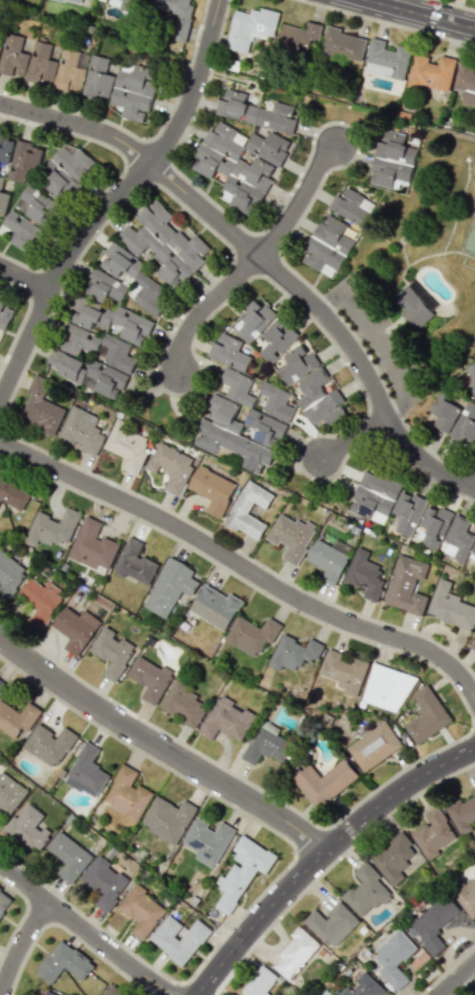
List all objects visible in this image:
building: (73, 1)
road: (456, 4)
building: (130, 5)
road: (420, 14)
building: (176, 15)
building: (250, 28)
building: (298, 39)
building: (343, 46)
building: (0, 48)
building: (13, 56)
building: (386, 59)
building: (40, 64)
building: (69, 72)
building: (431, 72)
building: (98, 78)
building: (466, 83)
building: (134, 92)
building: (256, 112)
road: (79, 124)
building: (269, 147)
building: (6, 149)
building: (392, 160)
building: (24, 162)
building: (233, 168)
building: (66, 171)
building: (3, 198)
road: (116, 200)
building: (36, 206)
building: (350, 206)
building: (20, 231)
park: (470, 237)
building: (166, 245)
building: (327, 246)
road: (256, 259)
road: (25, 278)
building: (134, 278)
building: (104, 287)
road: (332, 298)
building: (413, 307)
building: (5, 314)
road: (328, 314)
building: (112, 320)
building: (253, 320)
road: (358, 335)
building: (277, 339)
building: (97, 346)
road: (376, 346)
building: (229, 352)
building: (297, 364)
road: (378, 368)
building: (88, 373)
building: (471, 378)
building: (238, 386)
building: (319, 398)
building: (276, 402)
building: (41, 407)
building: (444, 413)
building: (465, 424)
building: (265, 428)
building: (82, 430)
building: (231, 435)
road: (357, 438)
building: (128, 446)
building: (171, 466)
building: (212, 490)
building: (13, 494)
building: (374, 497)
building: (239, 511)
building: (408, 512)
building: (433, 526)
building: (53, 528)
building: (291, 537)
building: (458, 538)
building: (92, 546)
building: (472, 552)
building: (328, 561)
building: (134, 562)
road: (241, 564)
building: (474, 568)
building: (10, 575)
building: (365, 575)
building: (407, 585)
building: (170, 587)
building: (41, 601)
building: (215, 606)
building: (450, 606)
building: (76, 628)
building: (251, 635)
building: (472, 645)
building: (112, 652)
building: (293, 653)
building: (474, 657)
building: (345, 671)
building: (150, 678)
building: (1, 684)
building: (387, 688)
building: (183, 703)
building: (427, 715)
building: (17, 718)
building: (226, 719)
building: (49, 744)
building: (265, 744)
building: (374, 746)
road: (161, 748)
building: (87, 772)
building: (325, 782)
building: (10, 793)
building: (127, 795)
building: (463, 813)
building: (168, 819)
building: (28, 828)
building: (434, 833)
building: (208, 841)
road: (323, 855)
building: (67, 856)
building: (393, 858)
building: (242, 872)
building: (104, 882)
building: (365, 891)
building: (467, 897)
building: (4, 902)
building: (141, 910)
building: (332, 924)
building: (433, 924)
road: (88, 930)
building: (179, 938)
road: (22, 946)
building: (295, 953)
building: (394, 958)
building: (63, 963)
road: (458, 979)
building: (260, 982)
building: (363, 987)
building: (49, 993)
building: (109, 993)

